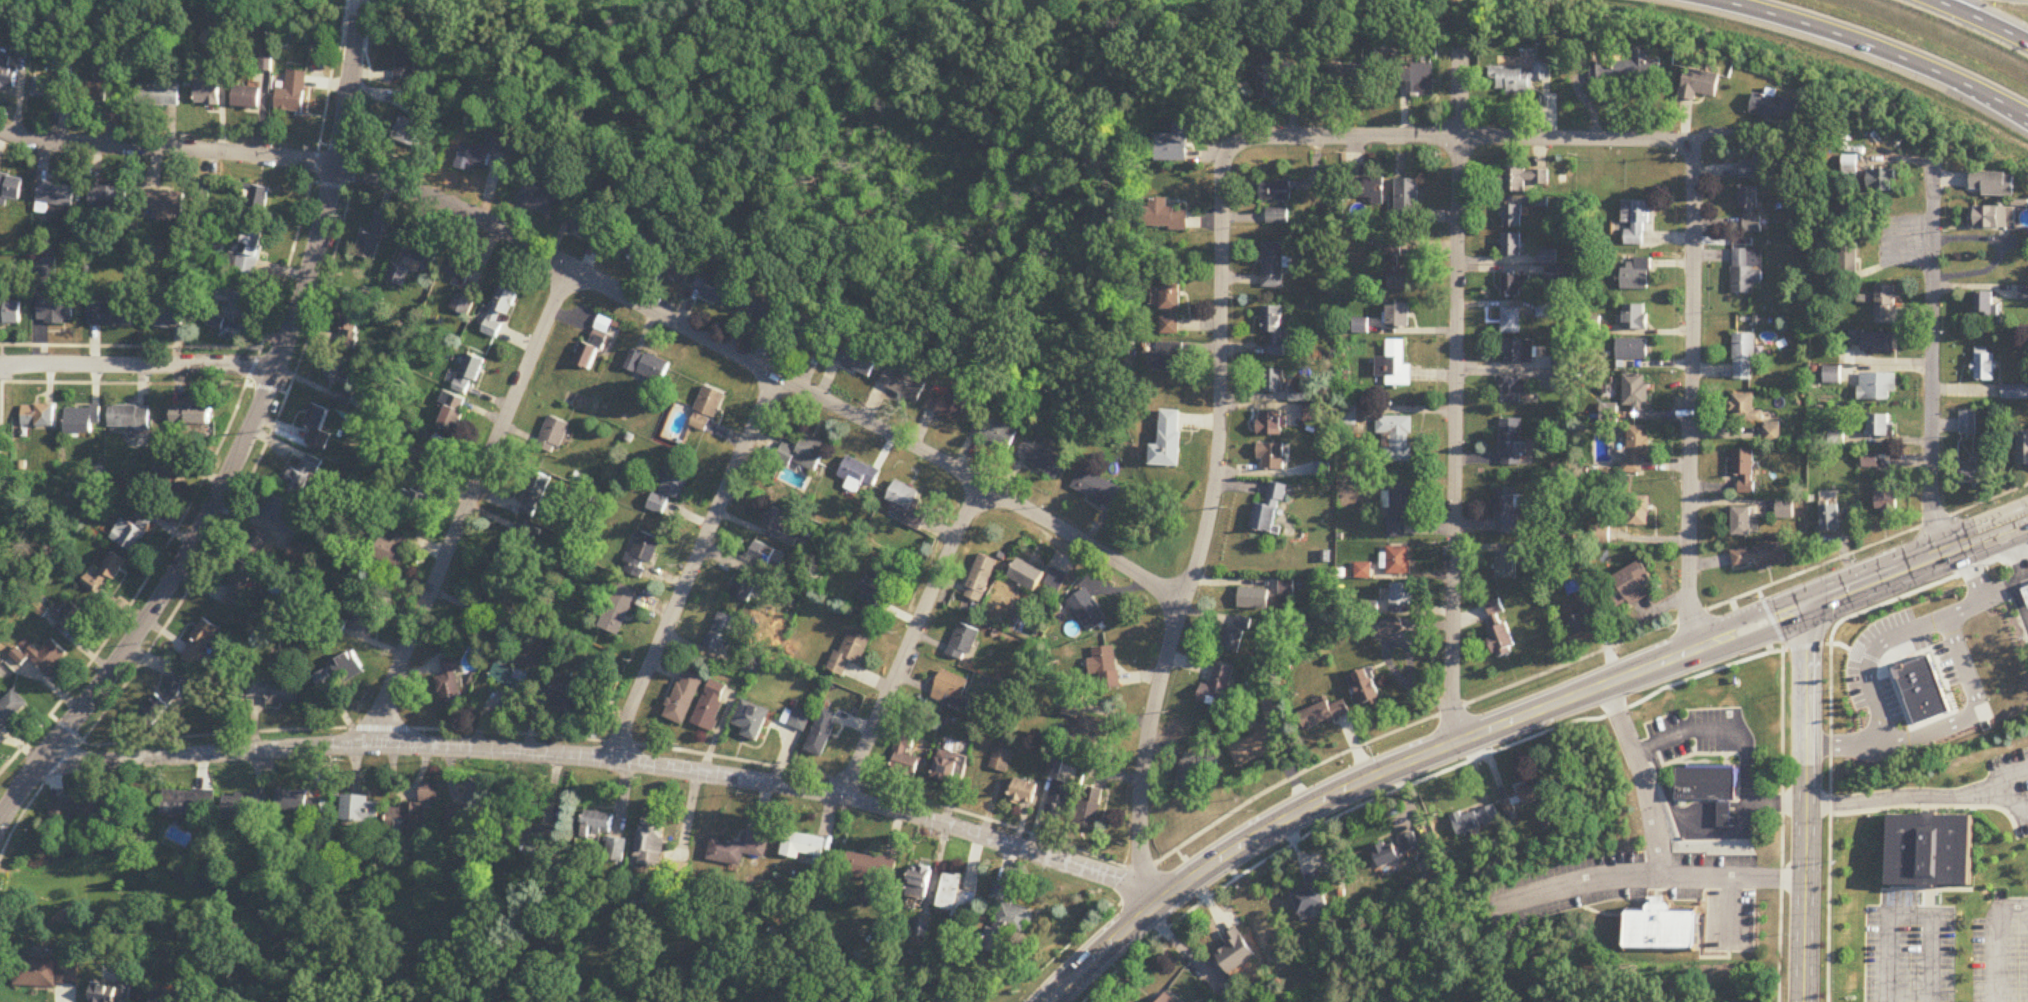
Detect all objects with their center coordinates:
road: (365, 3)
road: (1980, 20)
road: (1875, 47)
building: (1624, 65)
building: (408, 66)
building: (8, 73)
building: (1349, 75)
building: (1270, 77)
building: (1417, 78)
building: (1520, 78)
building: (1700, 84)
building: (51, 88)
building: (208, 91)
building: (93, 93)
building: (294, 93)
building: (158, 95)
building: (247, 97)
building: (1776, 107)
building: (411, 132)
road: (1460, 136)
building: (497, 142)
building: (1174, 144)
building: (474, 159)
building: (1757, 167)
building: (1523, 178)
building: (1882, 181)
building: (1994, 184)
building: (10, 188)
building: (1366, 190)
building: (1276, 191)
building: (56, 195)
building: (256, 197)
building: (539, 198)
building: (1407, 198)
building: (108, 199)
building: (166, 202)
building: (1750, 211)
building: (1164, 216)
building: (1512, 216)
building: (1277, 217)
building: (1993, 217)
building: (1635, 223)
building: (590, 226)
building: (374, 240)
building: (1512, 245)
building: (633, 247)
building: (250, 250)
building: (429, 252)
road: (2001, 253)
building: (1547, 258)
building: (1848, 258)
building: (1273, 266)
building: (1396, 267)
building: (46, 268)
building: (461, 270)
building: (677, 270)
building: (1746, 271)
building: (1636, 275)
building: (399, 276)
building: (1516, 284)
building: (716, 290)
road: (615, 291)
building: (1885, 302)
building: (235, 304)
building: (1985, 304)
building: (463, 305)
building: (1172, 308)
building: (55, 310)
building: (760, 310)
building: (10, 313)
building: (109, 313)
building: (499, 313)
building: (163, 314)
building: (1398, 316)
building: (1634, 318)
building: (1512, 320)
building: (349, 328)
building: (1274, 329)
building: (810, 334)
building: (1874, 342)
building: (593, 349)
building: (1631, 350)
building: (1517, 352)
road: (1931, 356)
building: (1743, 357)
building: (857, 358)
building: (1168, 358)
road: (4, 363)
road: (141, 363)
building: (1393, 365)
building: (649, 366)
building: (1984, 367)
building: (338, 372)
building: (469, 375)
building: (1272, 380)
building: (904, 384)
building: (1877, 388)
building: (1514, 389)
building: (1635, 392)
building: (2015, 392)
road: (1454, 393)
building: (345, 396)
road: (1690, 396)
building: (950, 404)
building: (707, 410)
building: (1745, 410)
building: (452, 412)
building: (1609, 414)
building: (38, 416)
building: (190, 416)
building: (130, 417)
building: (81, 419)
building: (1273, 423)
building: (1968, 423)
building: (1878, 426)
building: (317, 428)
building: (996, 433)
building: (1772, 433)
building: (553, 436)
building: (1397, 438)
road: (243, 441)
building: (1168, 442)
building: (1512, 442)
building: (2022, 448)
building: (1637, 449)
building: (803, 453)
building: (435, 455)
building: (1274, 455)
building: (1042, 459)
building: (1870, 461)
building: (171, 472)
building: (1745, 472)
building: (1974, 474)
building: (858, 476)
building: (302, 477)
building: (1098, 490)
building: (669, 491)
building: (534, 495)
building: (903, 500)
building: (1888, 500)
building: (411, 502)
road: (468, 508)
building: (273, 509)
building: (1398, 509)
building: (1269, 512)
building: (1507, 512)
building: (1639, 512)
building: (775, 520)
building: (1831, 520)
building: (1742, 523)
building: (136, 527)
road: (1206, 530)
road: (1986, 533)
building: (255, 544)
road: (2018, 545)
building: (393, 550)
building: (641, 554)
building: (761, 554)
building: (512, 556)
building: (1759, 557)
building: (1399, 561)
road: (694, 565)
building: (1506, 566)
road: (2020, 574)
building: (104, 576)
building: (1027, 576)
road: (1875, 577)
building: (981, 579)
road: (1997, 583)
building: (238, 586)
building: (877, 586)
building: (1631, 586)
building: (1054, 587)
building: (744, 589)
building: (2025, 591)
building: (1401, 595)
road: (2020, 596)
building: (1254, 599)
building: (495, 603)
building: (1087, 610)
building: (617, 611)
building: (1497, 612)
building: (70, 616)
building: (365, 620)
building: (338, 625)
building: (1581, 627)
building: (1388, 629)
building: (722, 633)
building: (1236, 637)
road: (912, 638)
building: (1501, 641)
building: (964, 642)
building: (201, 643)
building: (849, 653)
building: (48, 657)
road: (1410, 657)
road: (1576, 658)
road: (1872, 660)
road: (1391, 663)
building: (1106, 667)
building: (337, 671)
building: (449, 685)
building: (505, 685)
building: (1366, 688)
building: (1217, 689)
building: (951, 690)
building: (274, 692)
road: (1974, 695)
building: (684, 697)
building: (1929, 698)
building: (559, 702)
building: (711, 706)
road: (1829, 707)
building: (11, 710)
building: (156, 710)
building: (1324, 714)
building: (751, 720)
building: (799, 720)
parking lot: (1714, 727)
road: (1683, 730)
building: (822, 733)
building: (1091, 733)
parking lot: (1668, 734)
road: (1723, 740)
building: (1257, 746)
road: (1698, 752)
road: (612, 754)
building: (907, 756)
road: (1725, 758)
building: (1001, 760)
building: (1707, 763)
road: (1405, 764)
road: (1725, 764)
building: (949, 766)
building: (1738, 769)
parking lot: (2014, 770)
building: (1195, 772)
road: (1433, 773)
road: (1638, 776)
building: (1672, 777)
building: (1735, 778)
building: (1704, 781)
road: (406, 792)
building: (1024, 792)
road: (1781, 792)
building: (1531, 793)
road: (1919, 795)
road: (1993, 795)
road: (2014, 798)
building: (1059, 799)
road: (1774, 802)
road: (1805, 802)
building: (298, 803)
road: (1697, 804)
road: (1723, 804)
road: (1737, 804)
building: (190, 806)
road: (1932, 806)
building: (243, 807)
road: (1929, 809)
road: (2, 810)
building: (82, 810)
building: (360, 810)
building: (1723, 811)
building: (413, 812)
road: (1695, 812)
road: (1723, 812)
road: (1737, 812)
building: (471, 816)
building: (1088, 816)
road: (1696, 820)
road: (1723, 820)
road: (1737, 820)
building: (1475, 821)
building: (597, 824)
parking lot: (2023, 828)
road: (1718, 832)
building: (531, 836)
building: (650, 846)
building: (806, 846)
building: (1928, 848)
building: (739, 850)
building: (617, 851)
building: (1396, 852)
building: (873, 869)
parking lot: (1698, 870)
road: (1646, 875)
building: (919, 883)
parking lot: (1567, 884)
road: (1925, 888)
building: (955, 896)
building: (1312, 896)
road: (1929, 900)
road: (1730, 912)
road: (1909, 915)
parking lot: (1730, 918)
building: (1006, 921)
building: (922, 929)
building: (1662, 930)
road: (1994, 938)
road: (1183, 950)
parking lot: (1908, 950)
building: (1235, 952)
parking lot: (2000, 958)
building: (37, 974)
building: (111, 994)
building: (167, 997)
building: (1168, 999)

